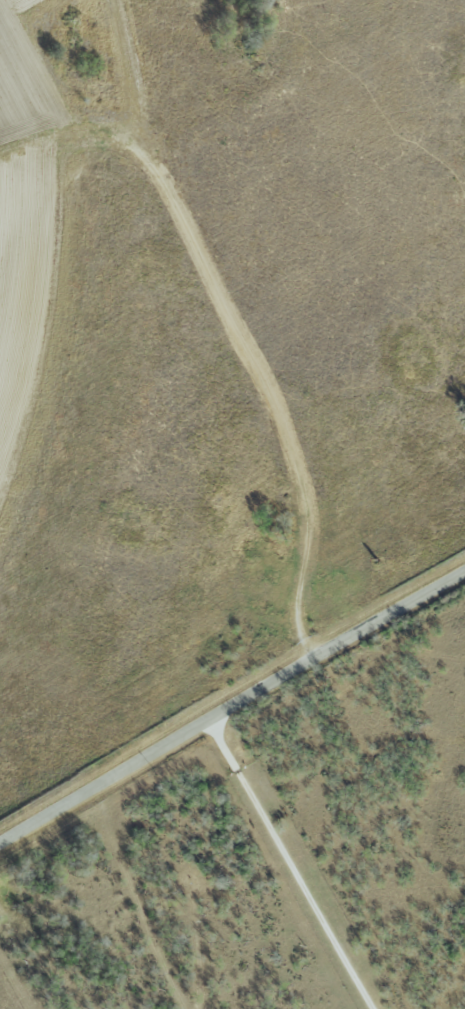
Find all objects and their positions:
road: (232, 706)
road: (289, 865)

